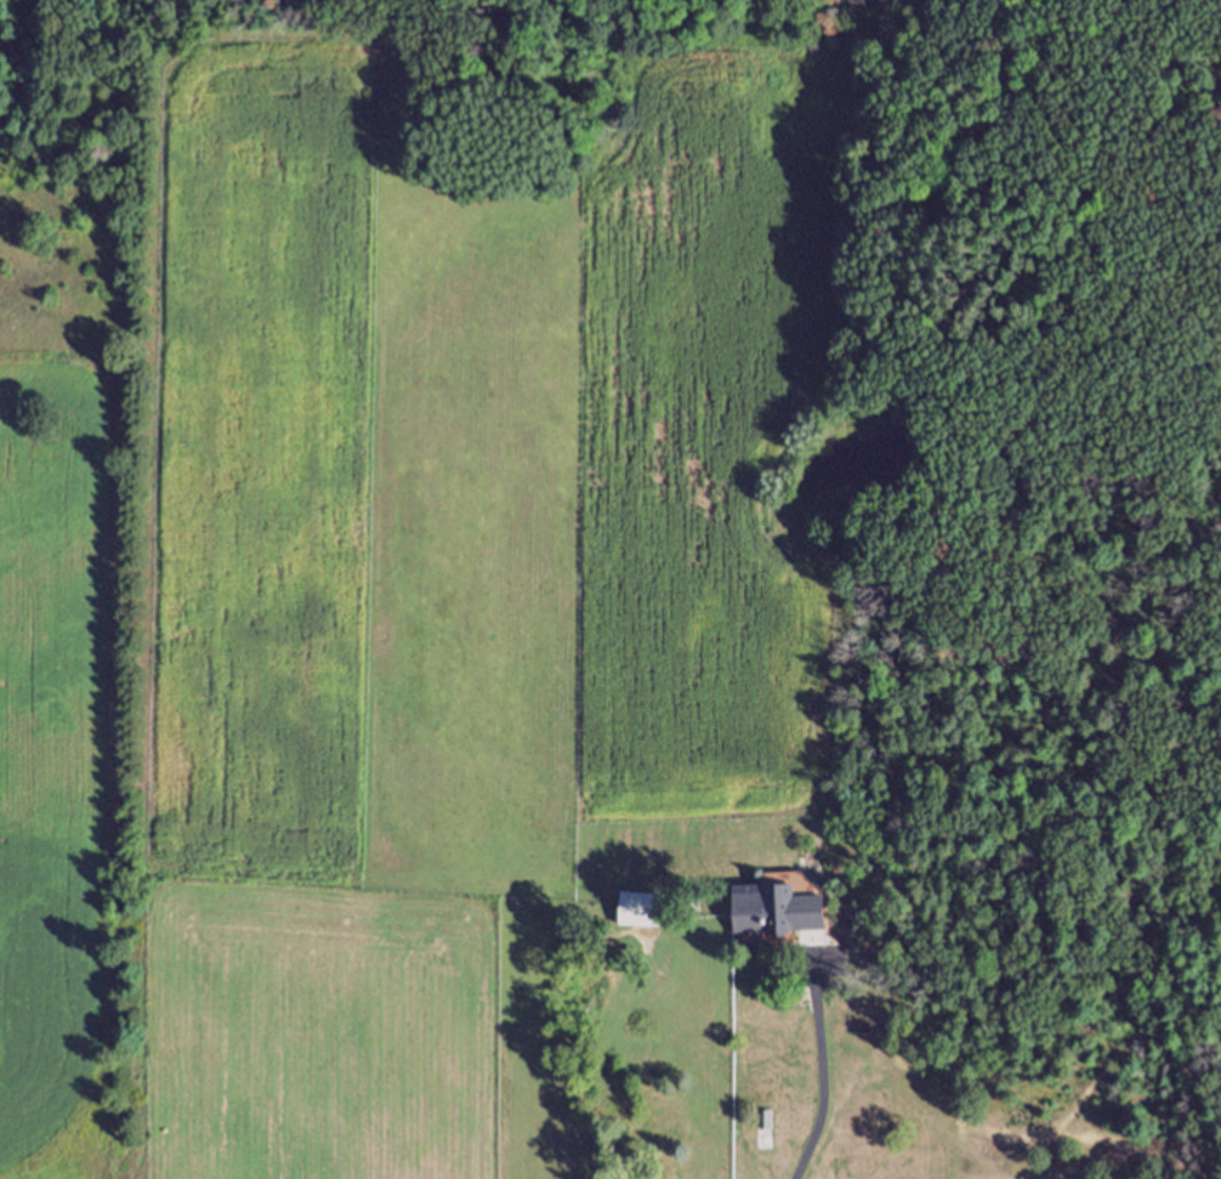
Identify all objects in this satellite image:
building: (785, 918)
building: (647, 919)
road: (823, 1081)

